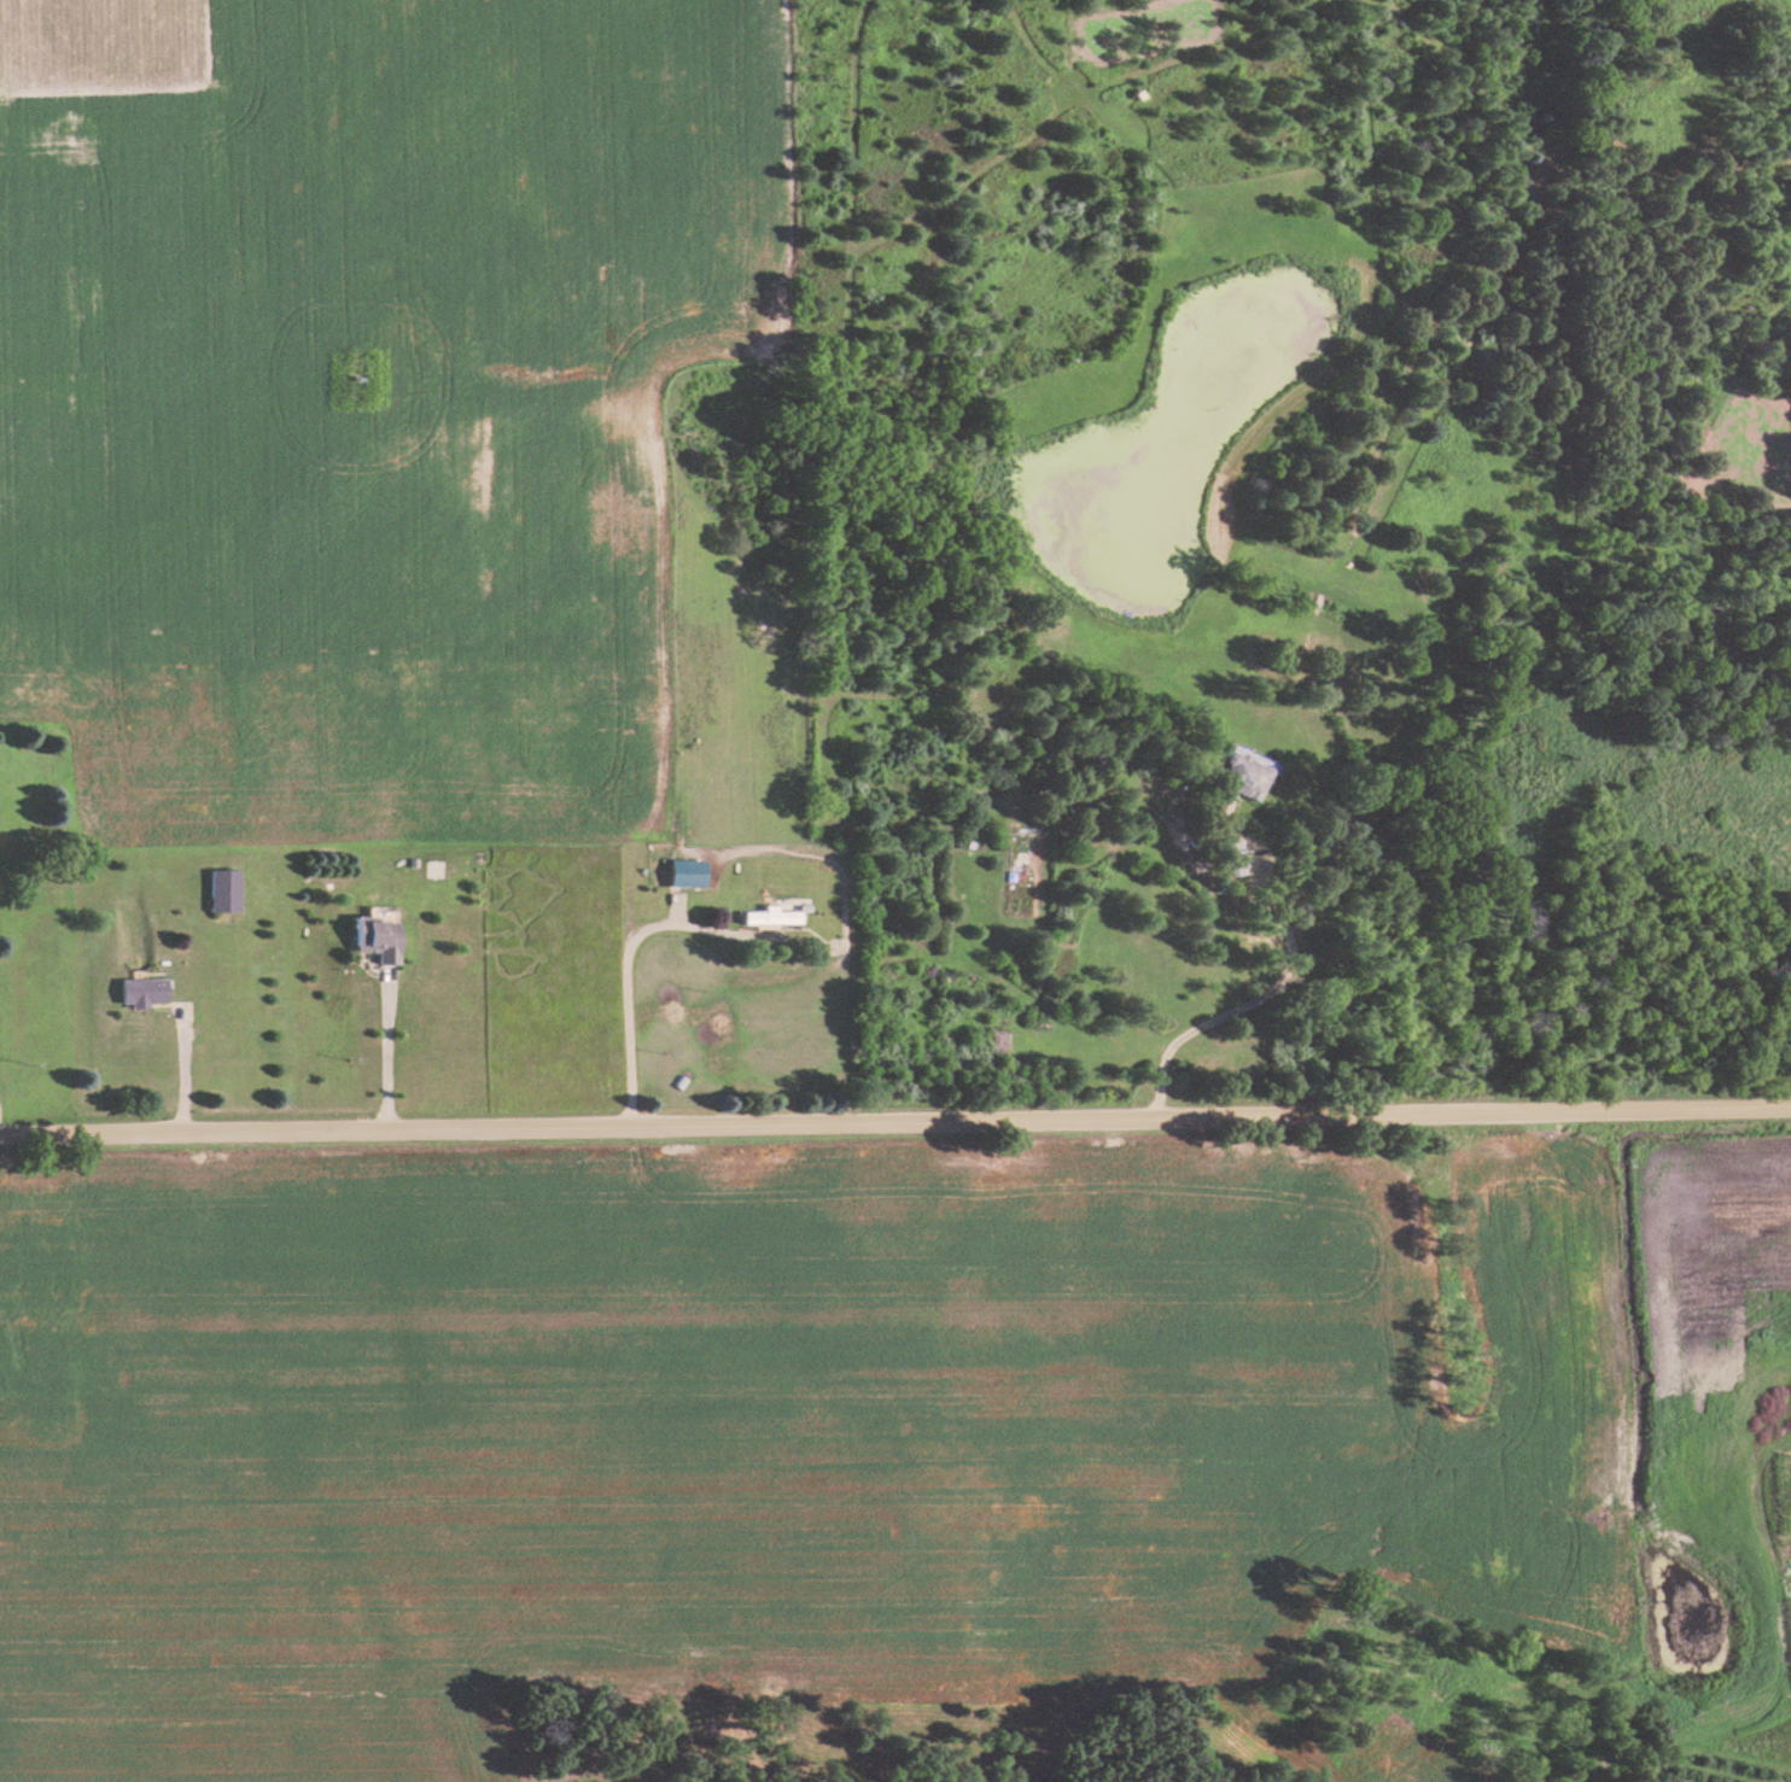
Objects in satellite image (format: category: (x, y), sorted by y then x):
building: (1248, 776)
building: (687, 874)
building: (223, 893)
building: (774, 917)
building: (377, 939)
road: (644, 988)
building: (144, 994)
road: (1261, 995)
road: (404, 1056)
road: (894, 1121)

